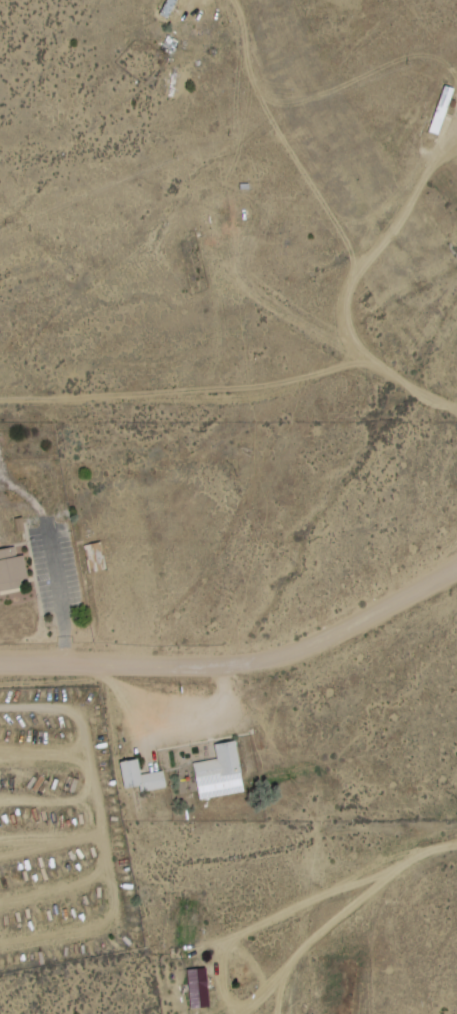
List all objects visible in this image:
building: (441, 111)
building: (213, 217)
building: (0, 439)
building: (91, 557)
building: (14, 571)
road: (239, 664)
building: (223, 772)
building: (144, 776)
building: (200, 988)

